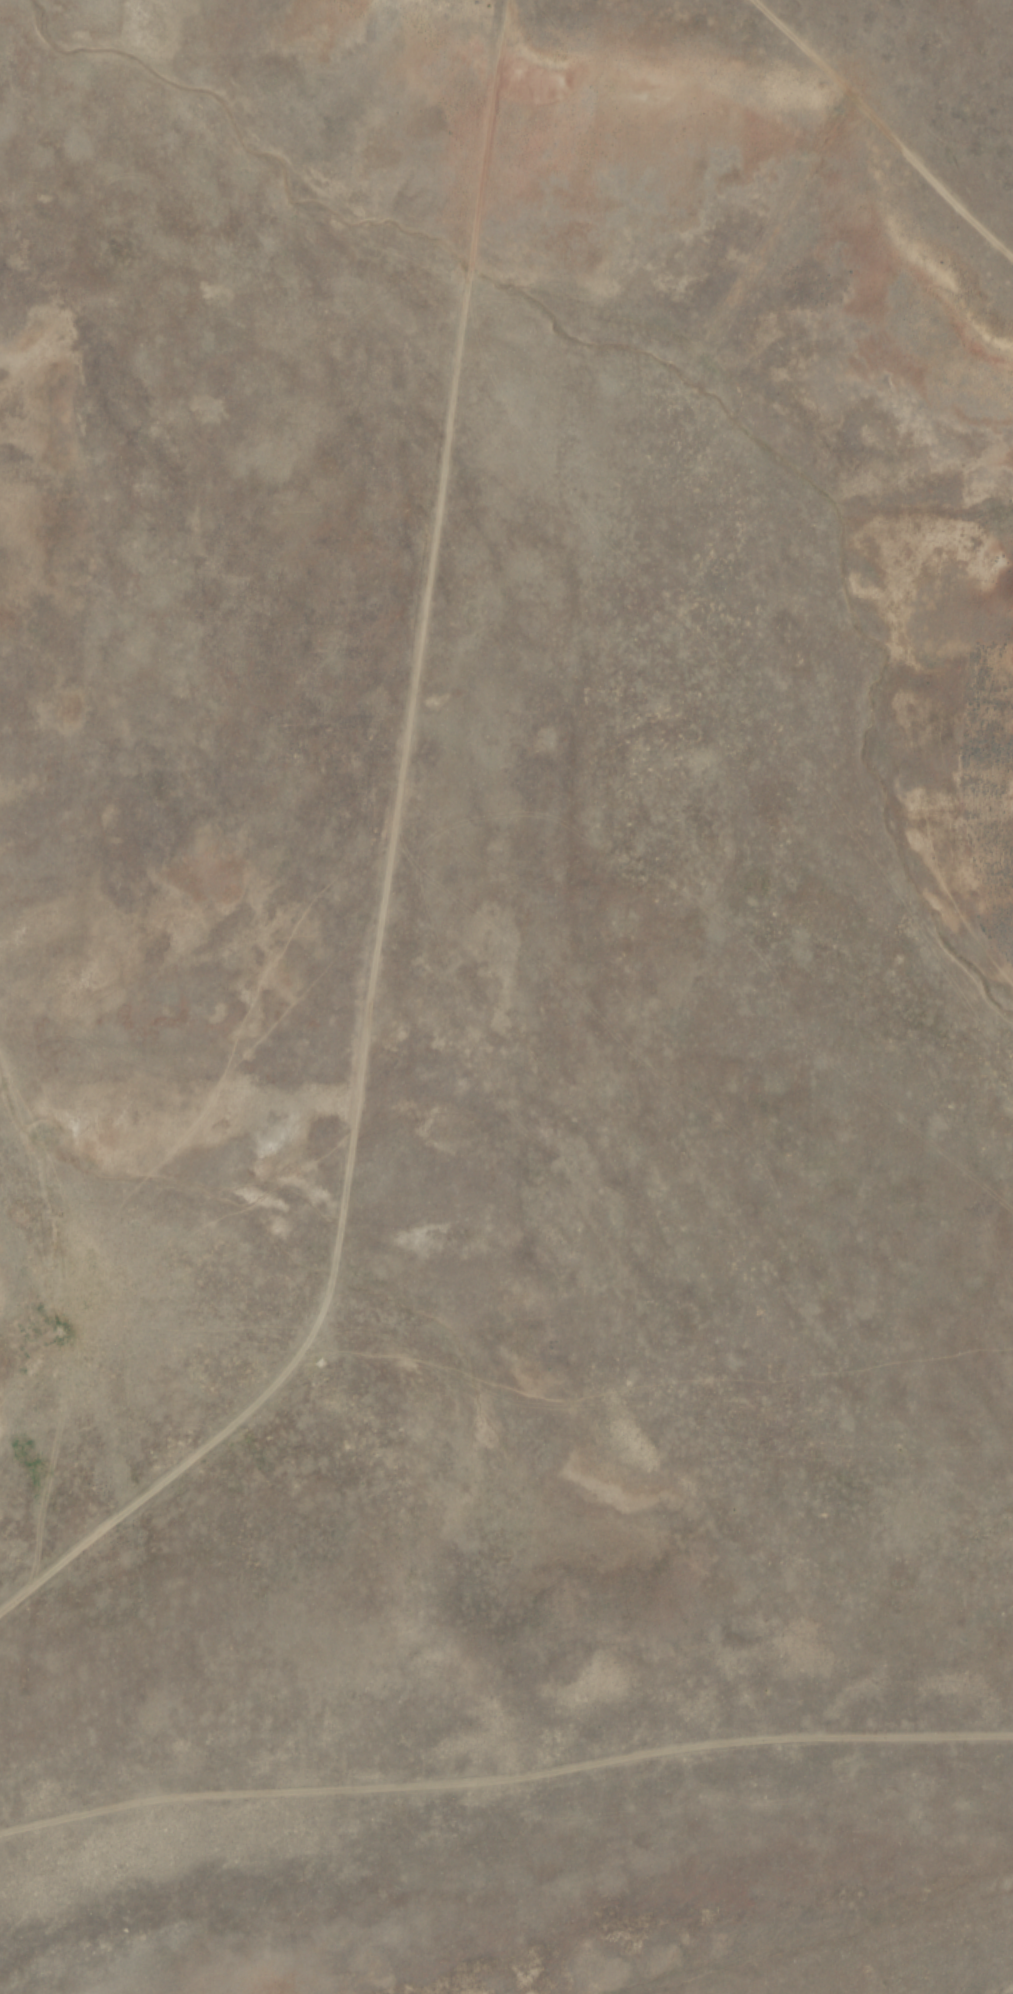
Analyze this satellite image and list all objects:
road: (832, 1942)

